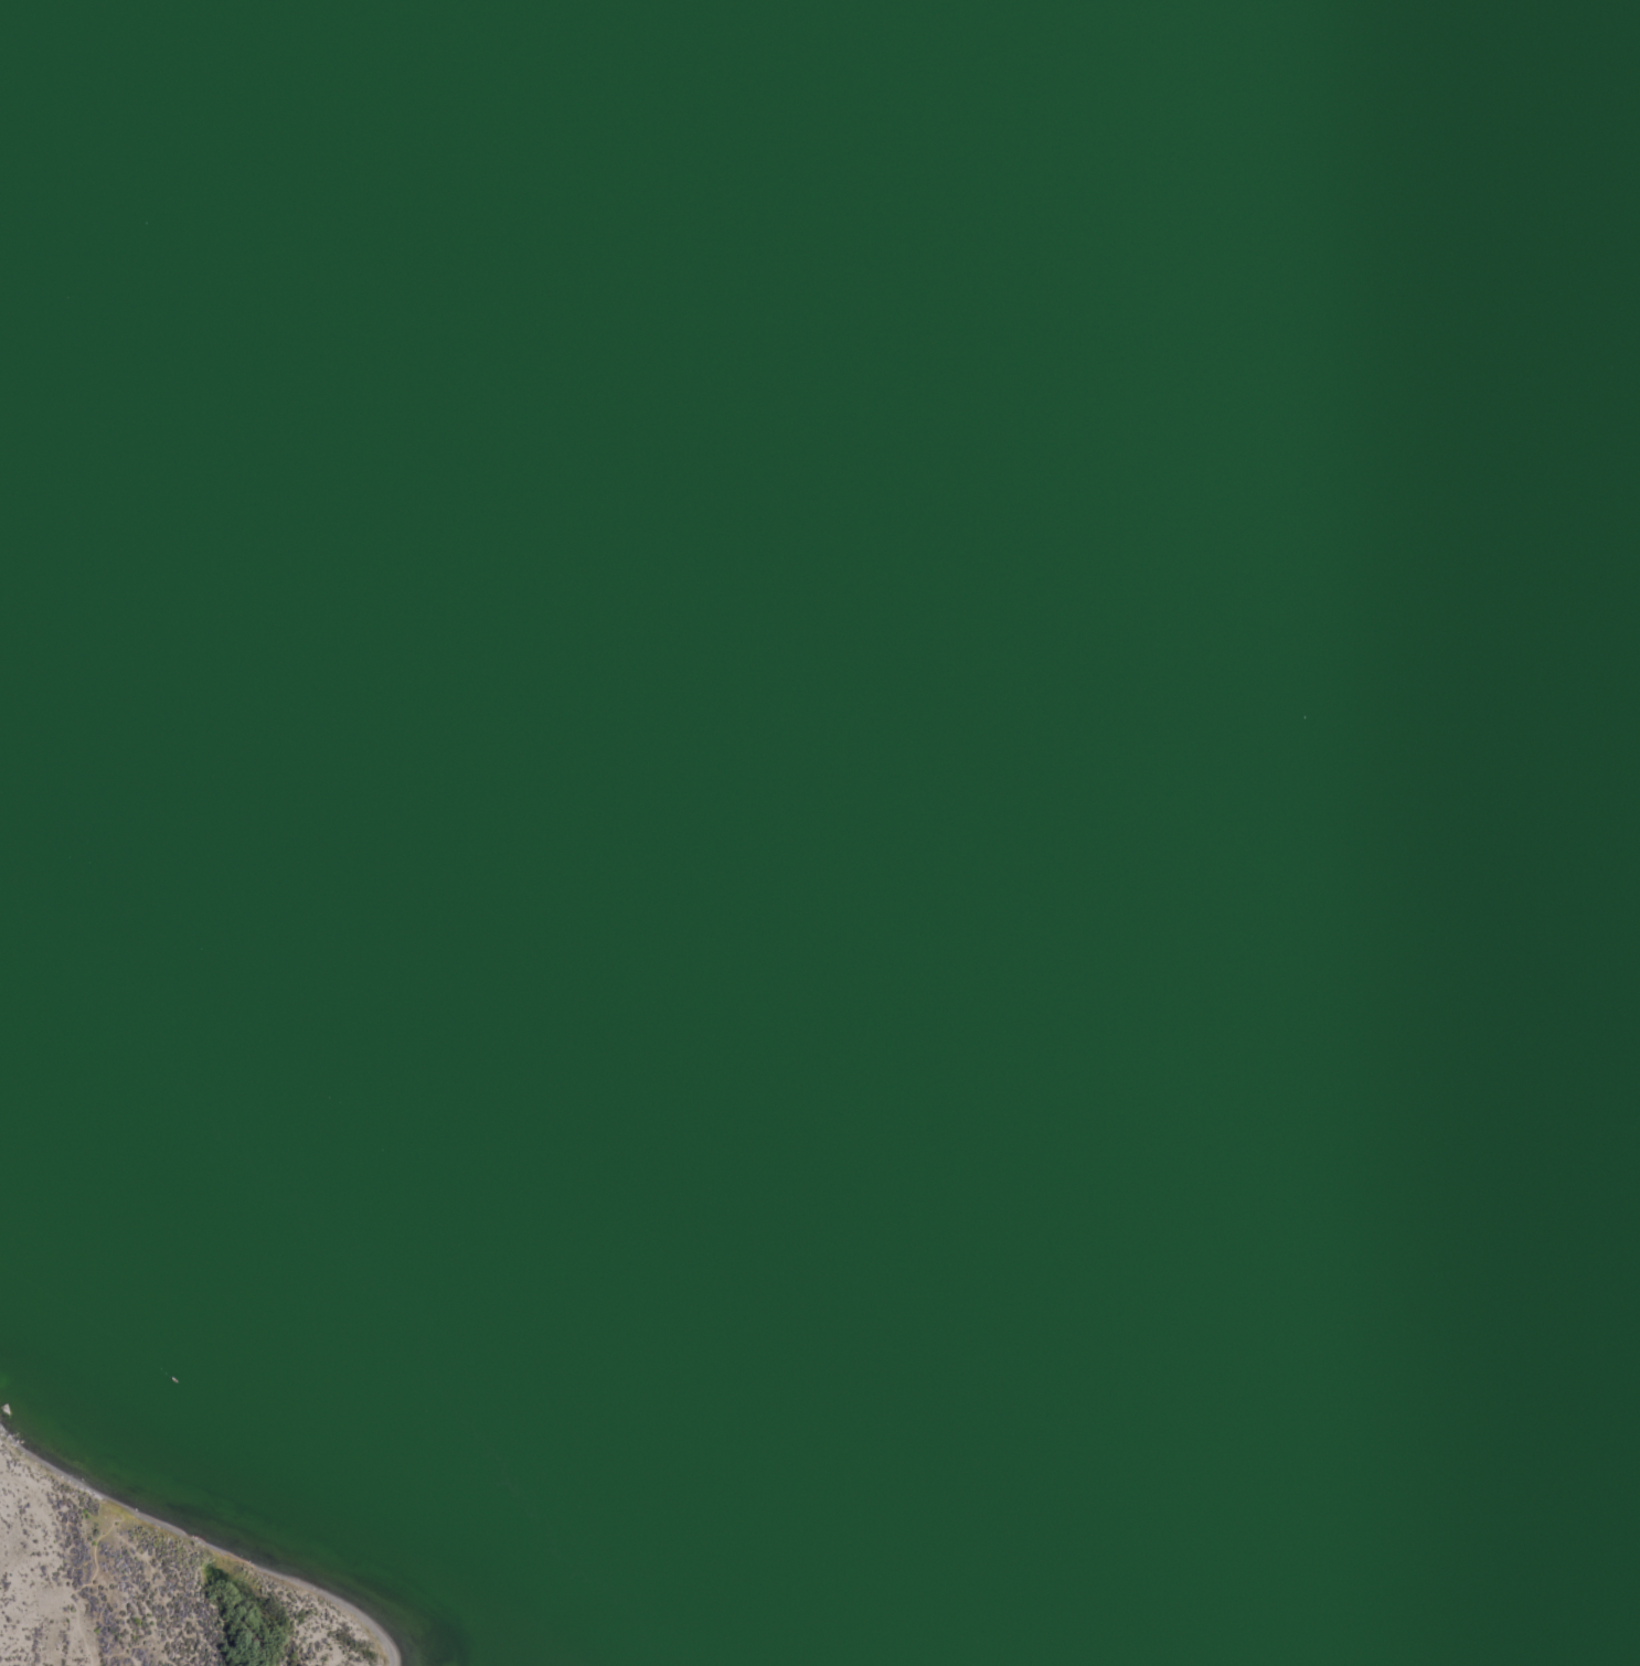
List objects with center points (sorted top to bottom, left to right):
road: (89, 1585)

